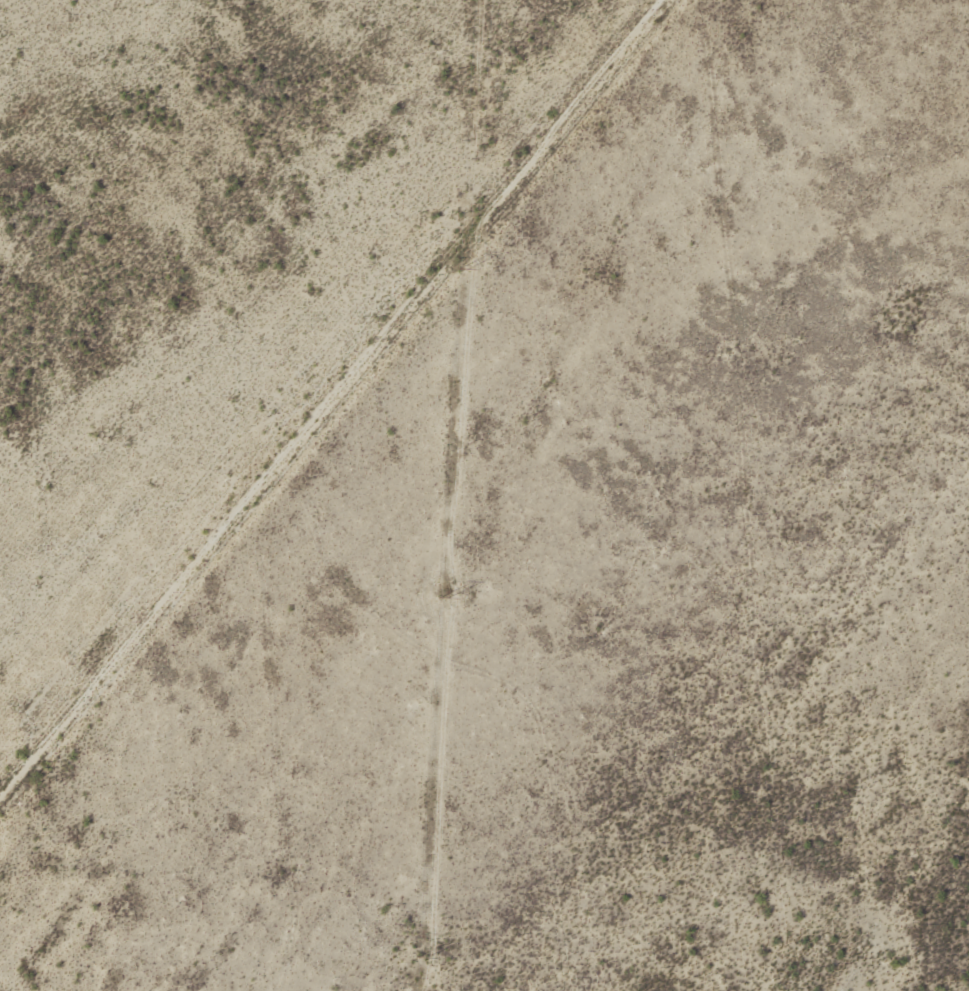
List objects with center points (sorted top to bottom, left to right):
power tower: (462, 271)
road: (335, 399)
power tower: (444, 600)
power tower: (421, 959)

